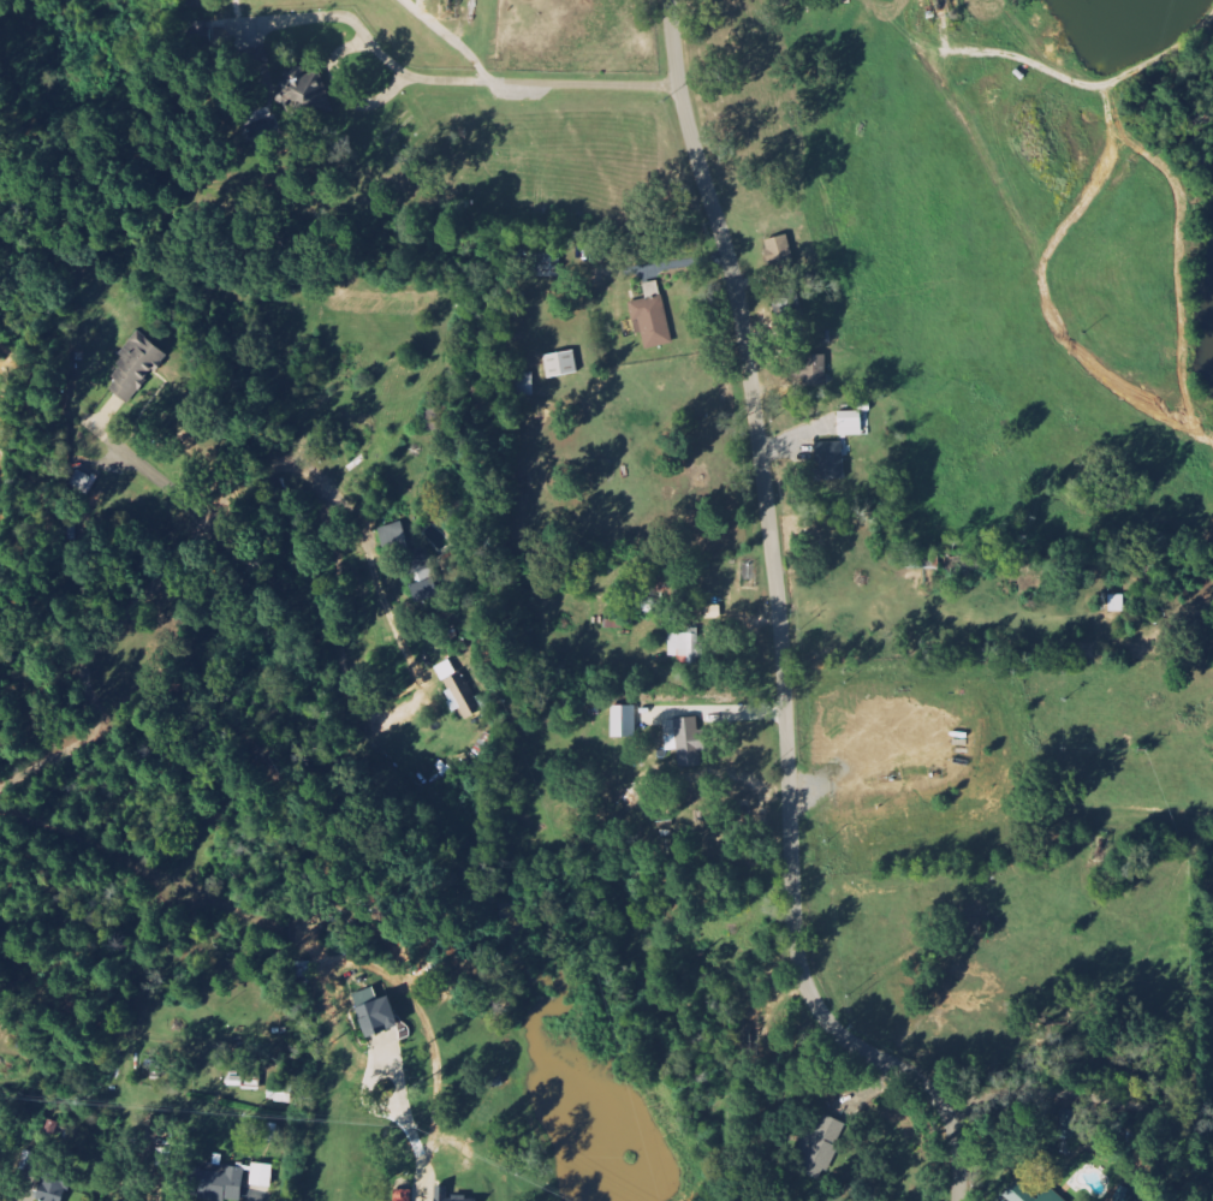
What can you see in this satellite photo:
road: (525, 82)
road: (1209, 123)
road: (1057, 236)
building: (597, 254)
building: (545, 266)
building: (653, 317)
building: (561, 364)
building: (136, 369)
building: (816, 370)
building: (523, 385)
building: (851, 423)
building: (831, 462)
building: (648, 605)
road: (780, 630)
building: (684, 648)
building: (463, 697)
building: (625, 721)
building: (686, 741)
building: (376, 1013)
road: (1078, 1092)
building: (281, 1093)
building: (1071, 1125)
power tower: (416, 1126)
building: (273, 1134)
building: (821, 1146)
building: (262, 1176)
building: (222, 1183)
building: (54, 1190)
building: (442, 1194)
building: (1030, 1195)
building: (1129, 1195)
building: (404, 1196)
building: (476, 1200)

